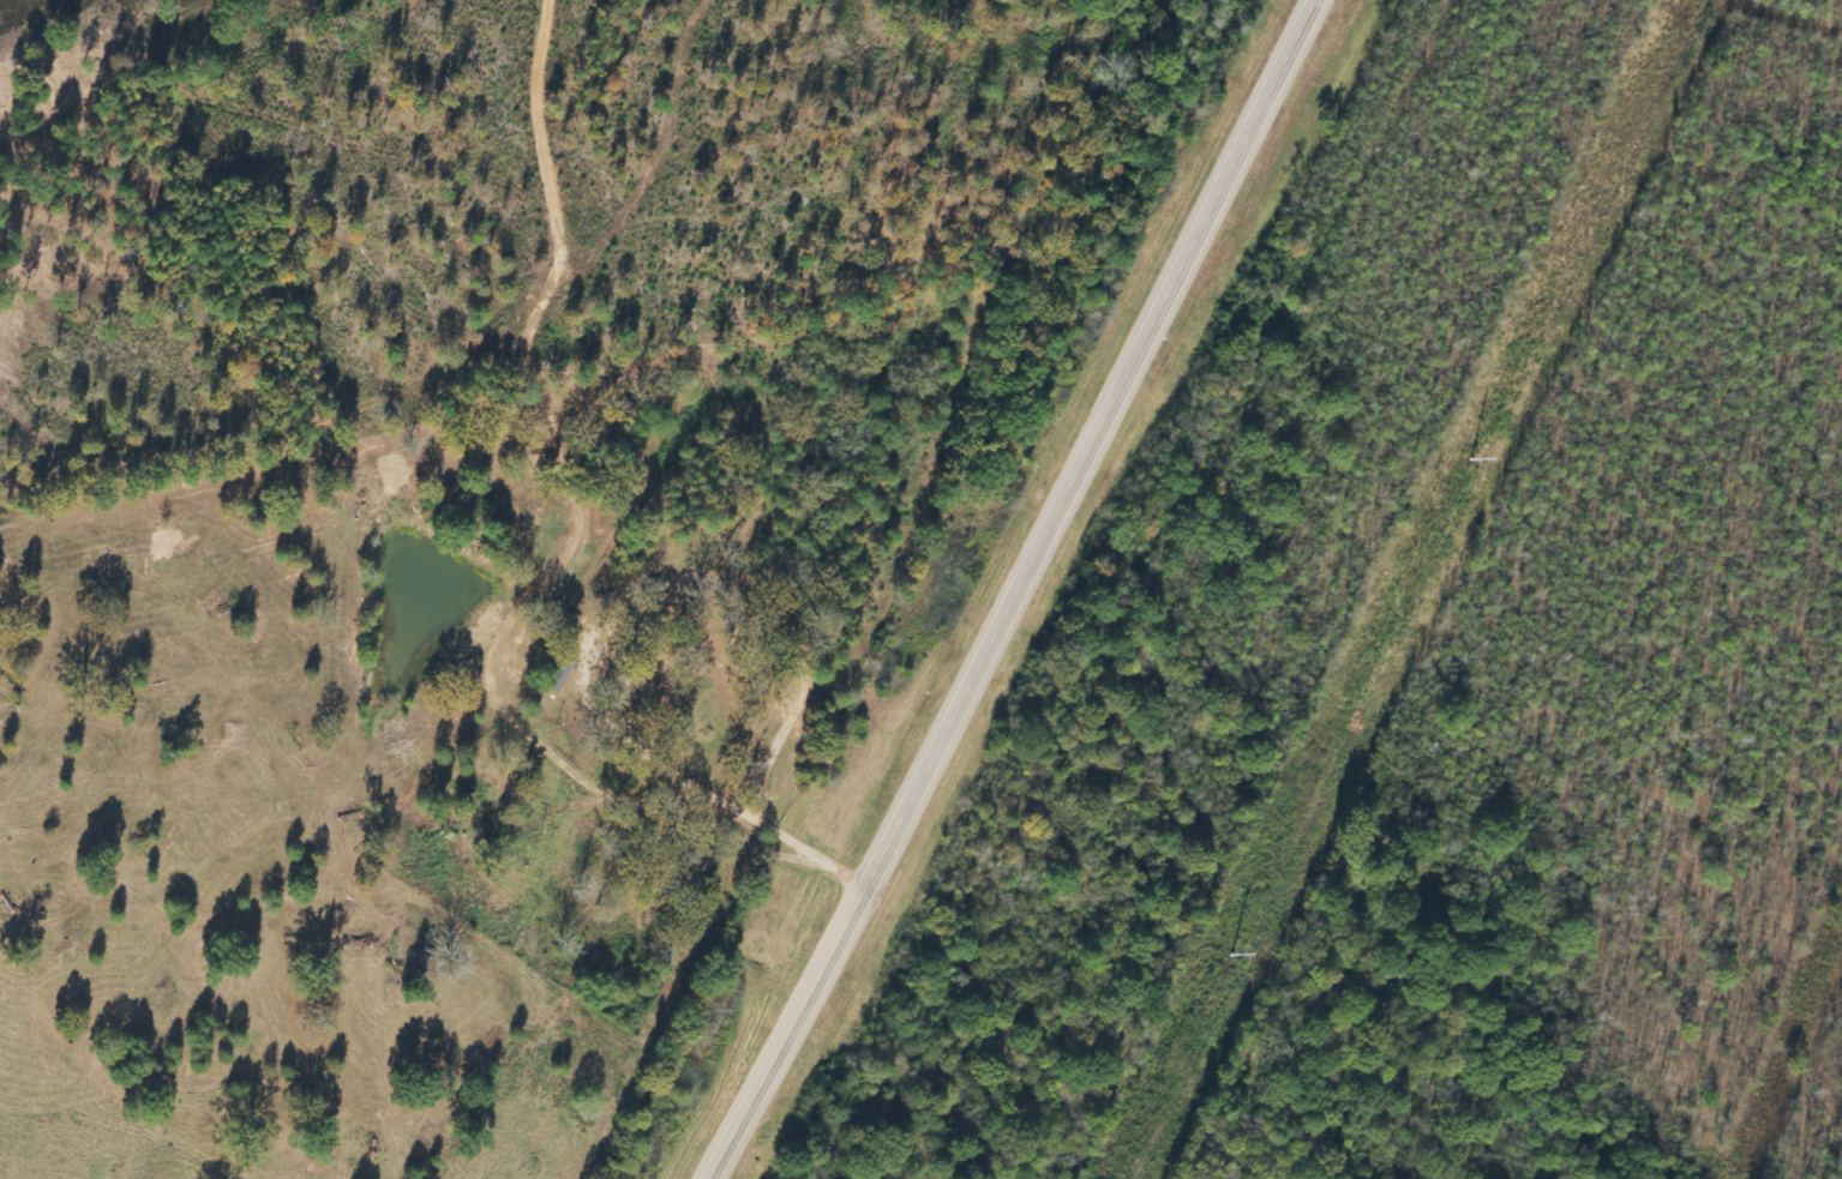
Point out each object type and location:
road: (1012, 590)
power tower: (1225, 943)

